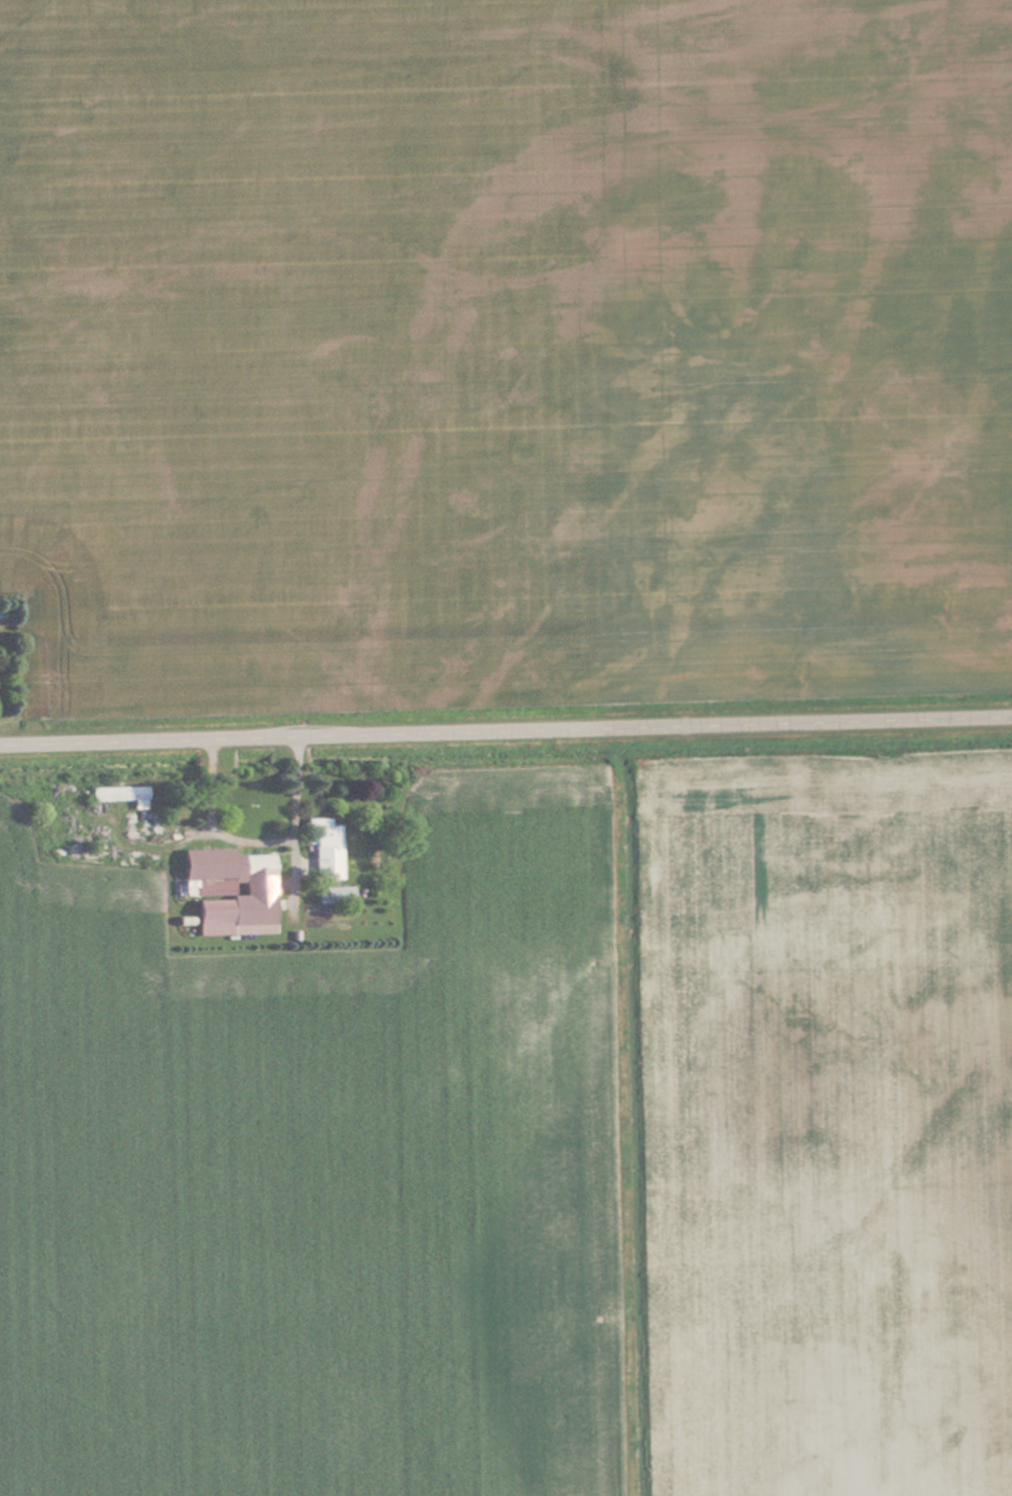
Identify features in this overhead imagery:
road: (506, 722)
building: (120, 794)
building: (325, 849)
building: (231, 894)

